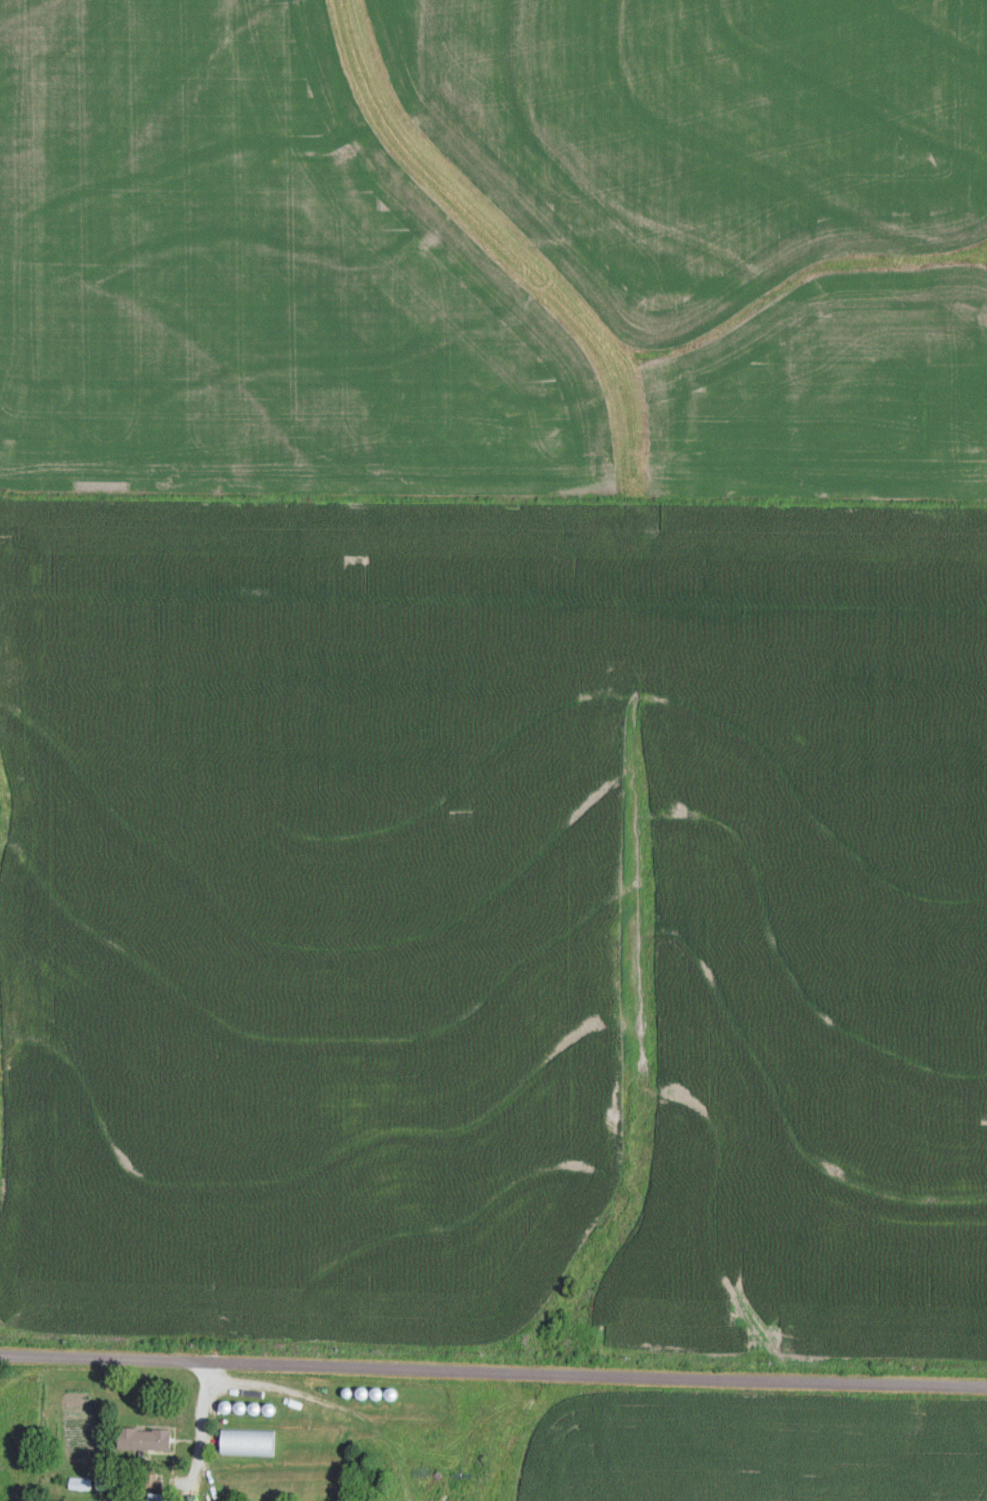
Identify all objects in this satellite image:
road: (493, 1371)
building: (144, 1438)
road: (202, 1442)
building: (247, 1442)
building: (79, 1483)

